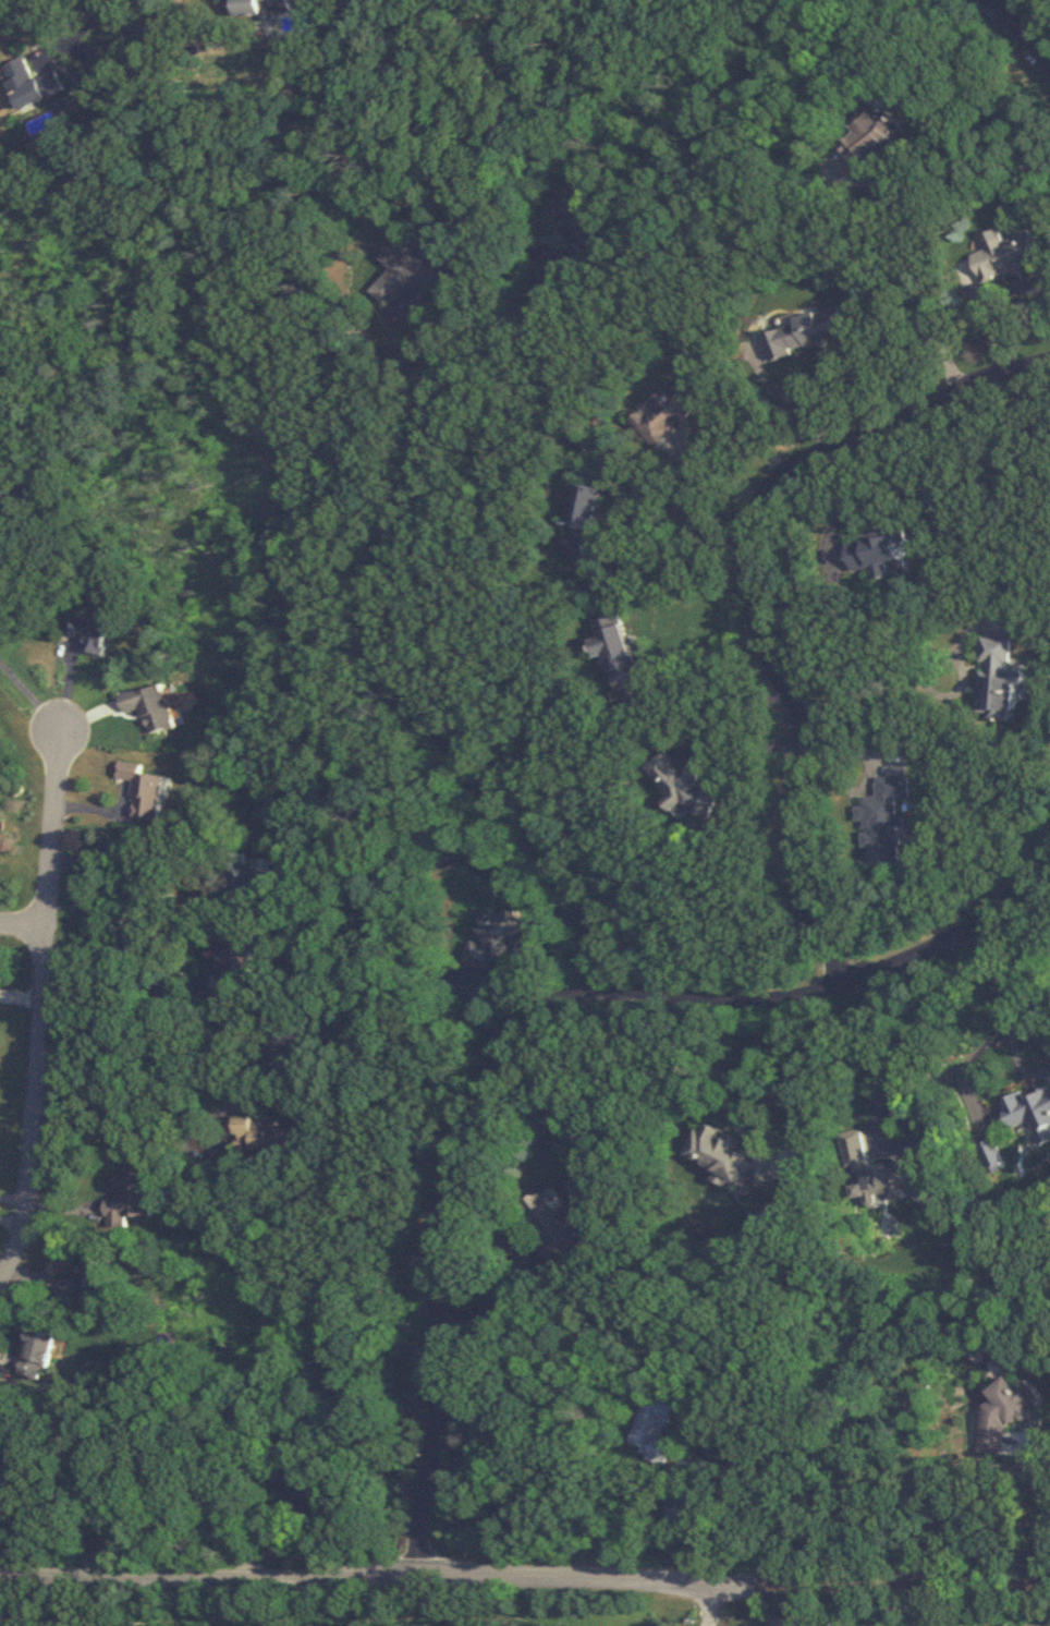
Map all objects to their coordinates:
building: (260, 8)
road: (85, 20)
road: (1023, 33)
building: (32, 84)
building: (878, 139)
building: (578, 213)
road: (888, 231)
building: (1011, 254)
building: (414, 275)
building: (809, 333)
road: (491, 339)
building: (669, 414)
building: (586, 523)
road: (688, 547)
building: (882, 556)
road: (754, 590)
building: (0, 606)
building: (96, 634)
building: (619, 651)
road: (658, 656)
road: (877, 679)
building: (1001, 680)
road: (29, 696)
building: (156, 707)
road: (418, 712)
building: (680, 785)
building: (147, 791)
building: (888, 822)
road: (144, 836)
building: (253, 883)
road: (1029, 918)
road: (22, 925)
building: (504, 939)
road: (105, 963)
building: (242, 964)
road: (987, 976)
road: (38, 1009)
road: (524, 1021)
road: (124, 1028)
road: (1031, 1033)
building: (279, 1048)
road: (1018, 1060)
road: (793, 1066)
road: (874, 1113)
building: (1031, 1115)
building: (260, 1131)
road: (155, 1142)
building: (993, 1153)
building: (731, 1156)
building: (887, 1173)
building: (131, 1198)
road: (13, 1199)
road: (10, 1222)
building: (558, 1225)
building: (96, 1276)
road: (502, 1302)
building: (41, 1351)
building: (1008, 1412)
building: (660, 1431)
building: (300, 1484)
road: (720, 1516)
road: (1046, 1520)
road: (109, 1526)
road: (524, 1579)
road: (245, 1604)
road: (716, 1606)
building: (810, 1619)

